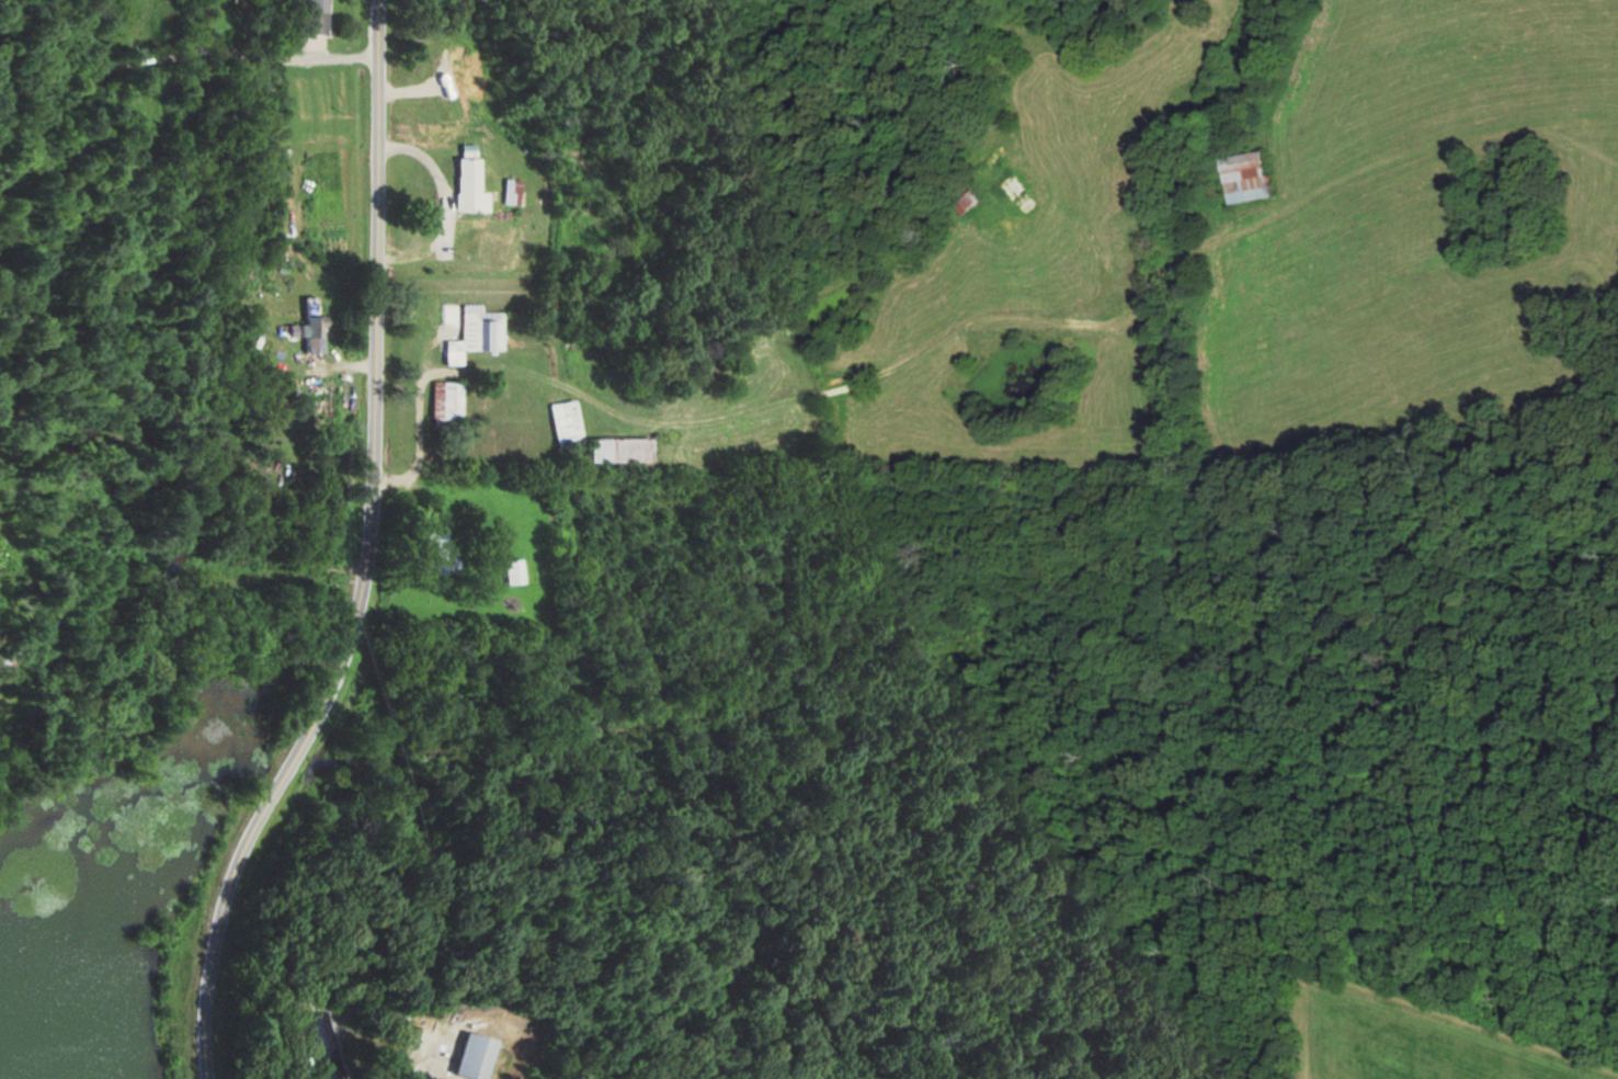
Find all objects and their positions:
building: (321, 16)
road: (172, 61)
building: (1245, 177)
building: (998, 181)
building: (471, 186)
building: (515, 192)
building: (429, 310)
building: (480, 334)
building: (317, 336)
building: (452, 401)
building: (572, 423)
building: (629, 450)
building: (445, 552)
road: (369, 557)
building: (520, 571)
building: (326, 1046)
building: (480, 1056)

